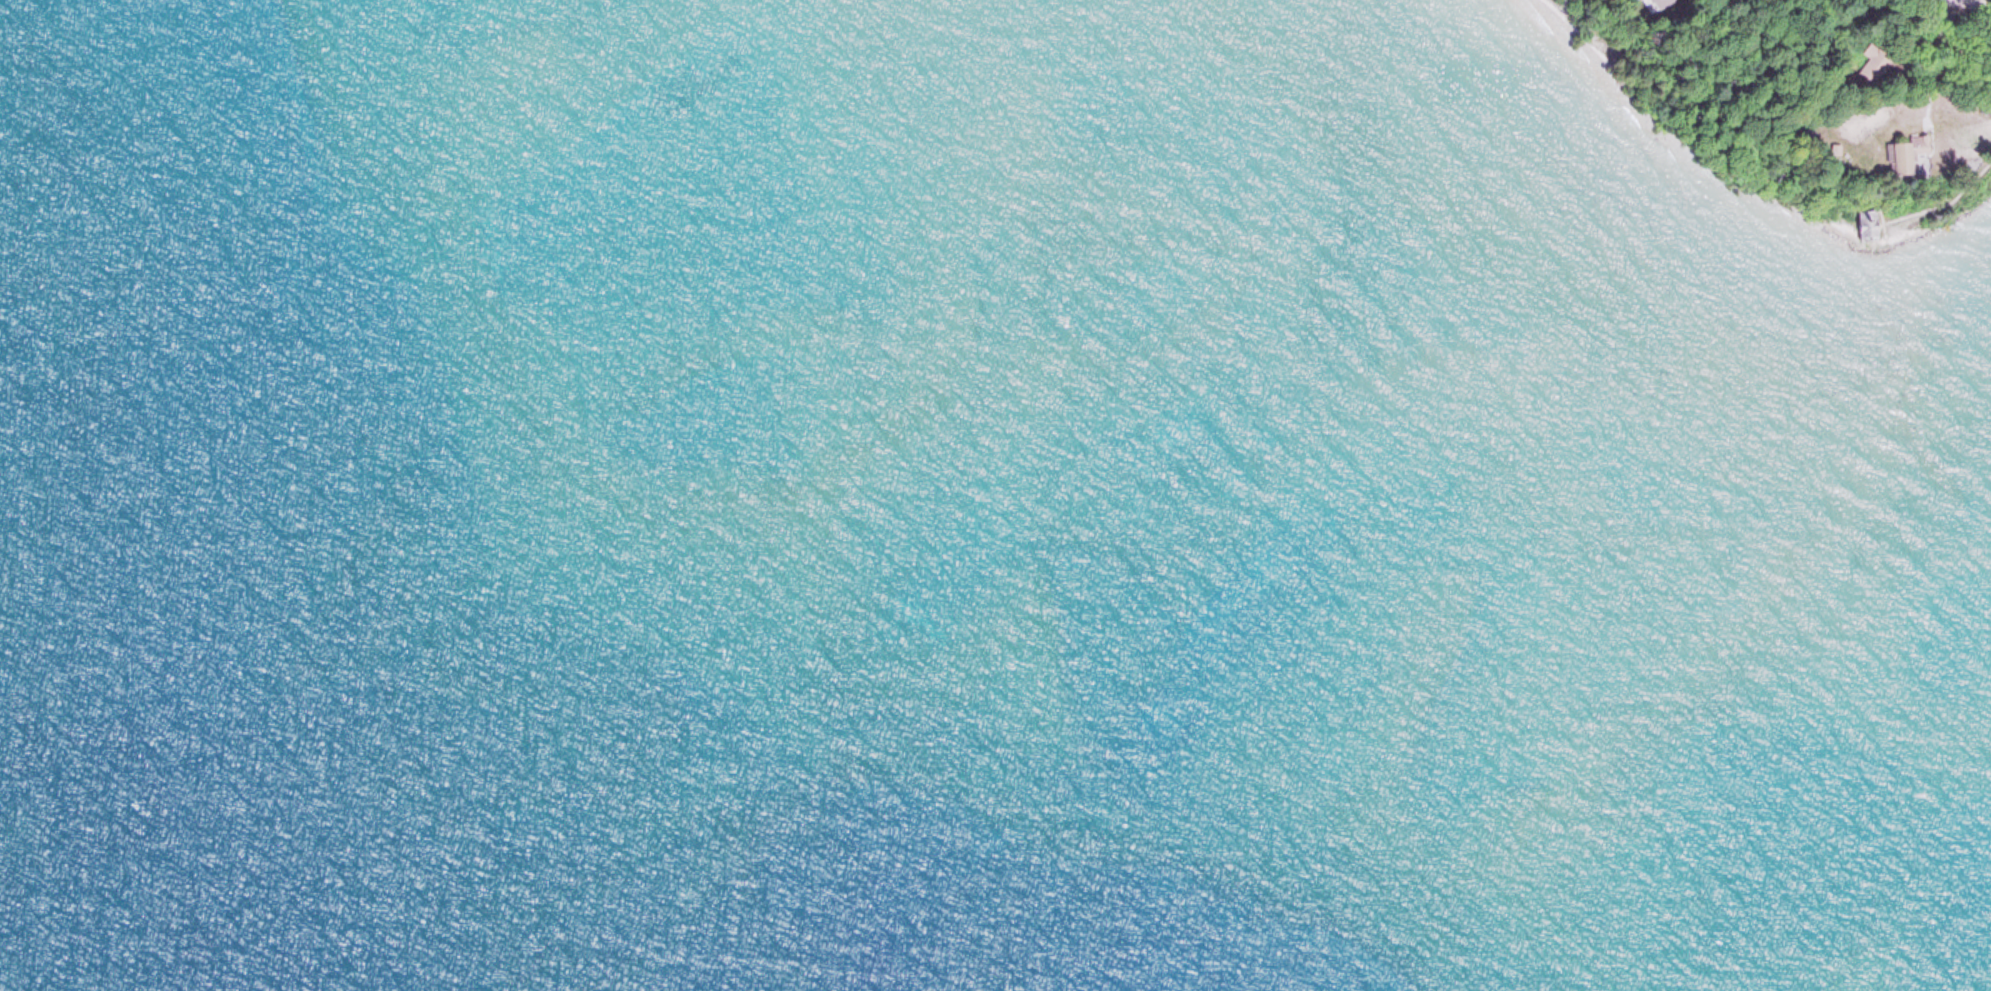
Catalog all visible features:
building: (1654, 2)
road: (1976, 2)
building: (1912, 41)
building: (1871, 61)
building: (1898, 153)
building: (1864, 222)

